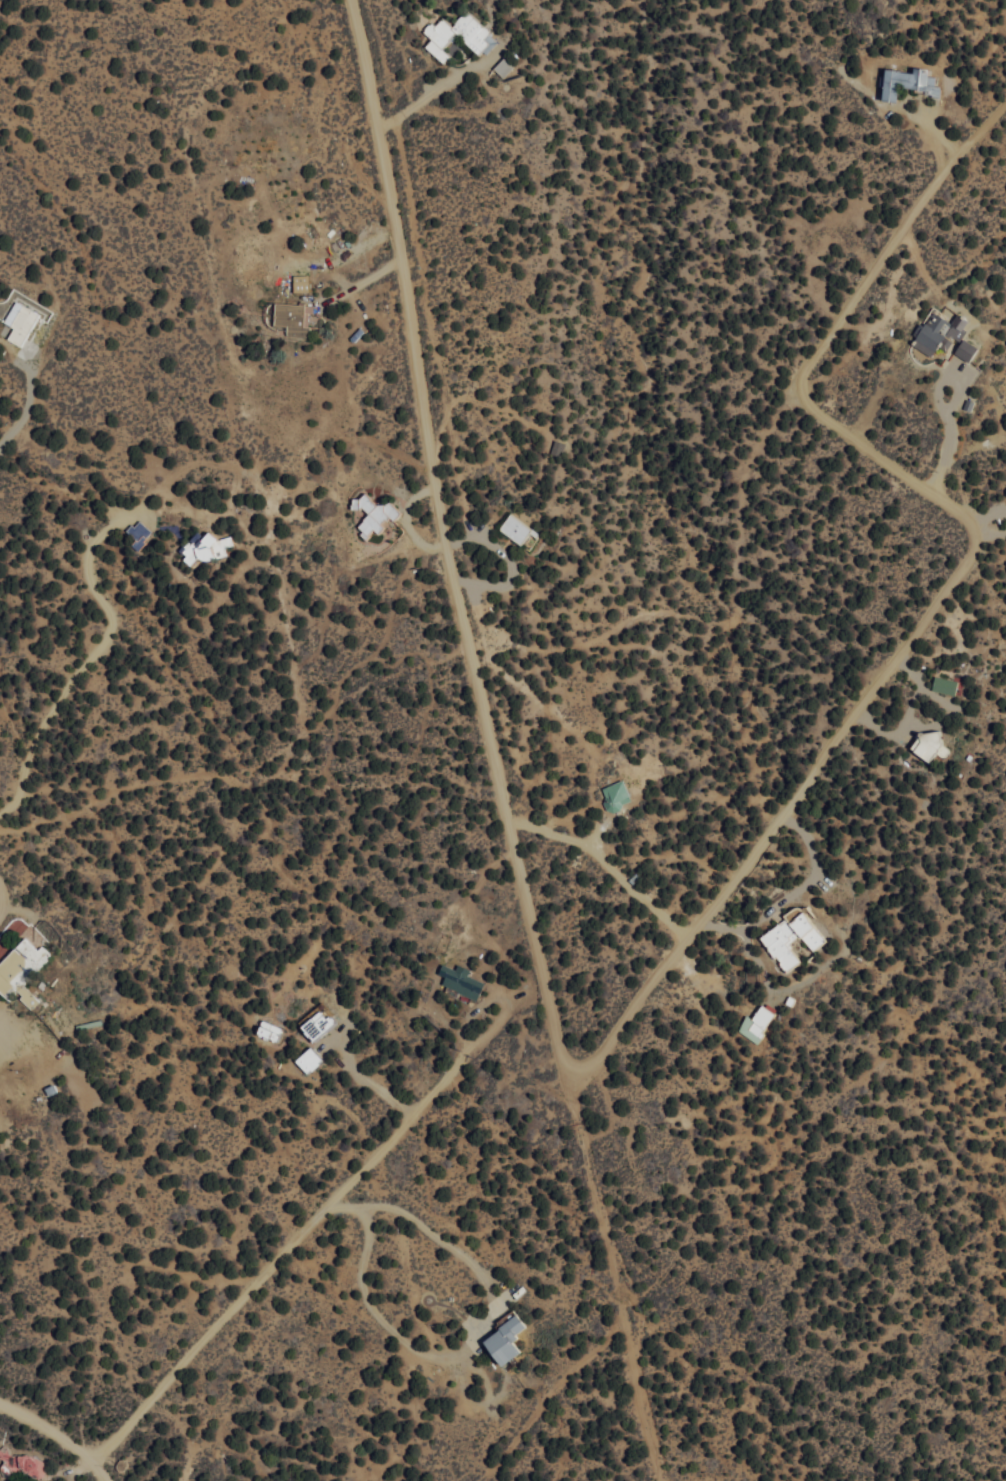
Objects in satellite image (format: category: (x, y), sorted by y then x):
building: (456, 35)
building: (501, 66)
building: (905, 82)
building: (299, 282)
building: (291, 318)
building: (19, 322)
building: (938, 331)
building: (964, 349)
road: (419, 363)
building: (372, 514)
building: (513, 528)
building: (204, 547)
road: (954, 574)
building: (943, 684)
road: (242, 734)
building: (928, 743)
building: (614, 794)
road: (515, 869)
building: (789, 938)
building: (20, 970)
building: (459, 980)
building: (757, 1021)
building: (316, 1022)
building: (267, 1030)
building: (307, 1059)
road: (583, 1163)
road: (296, 1237)
building: (502, 1340)
road: (627, 1345)
road: (547, 1396)
road: (647, 1427)
road: (42, 1429)
building: (18, 1463)
road: (90, 1470)

